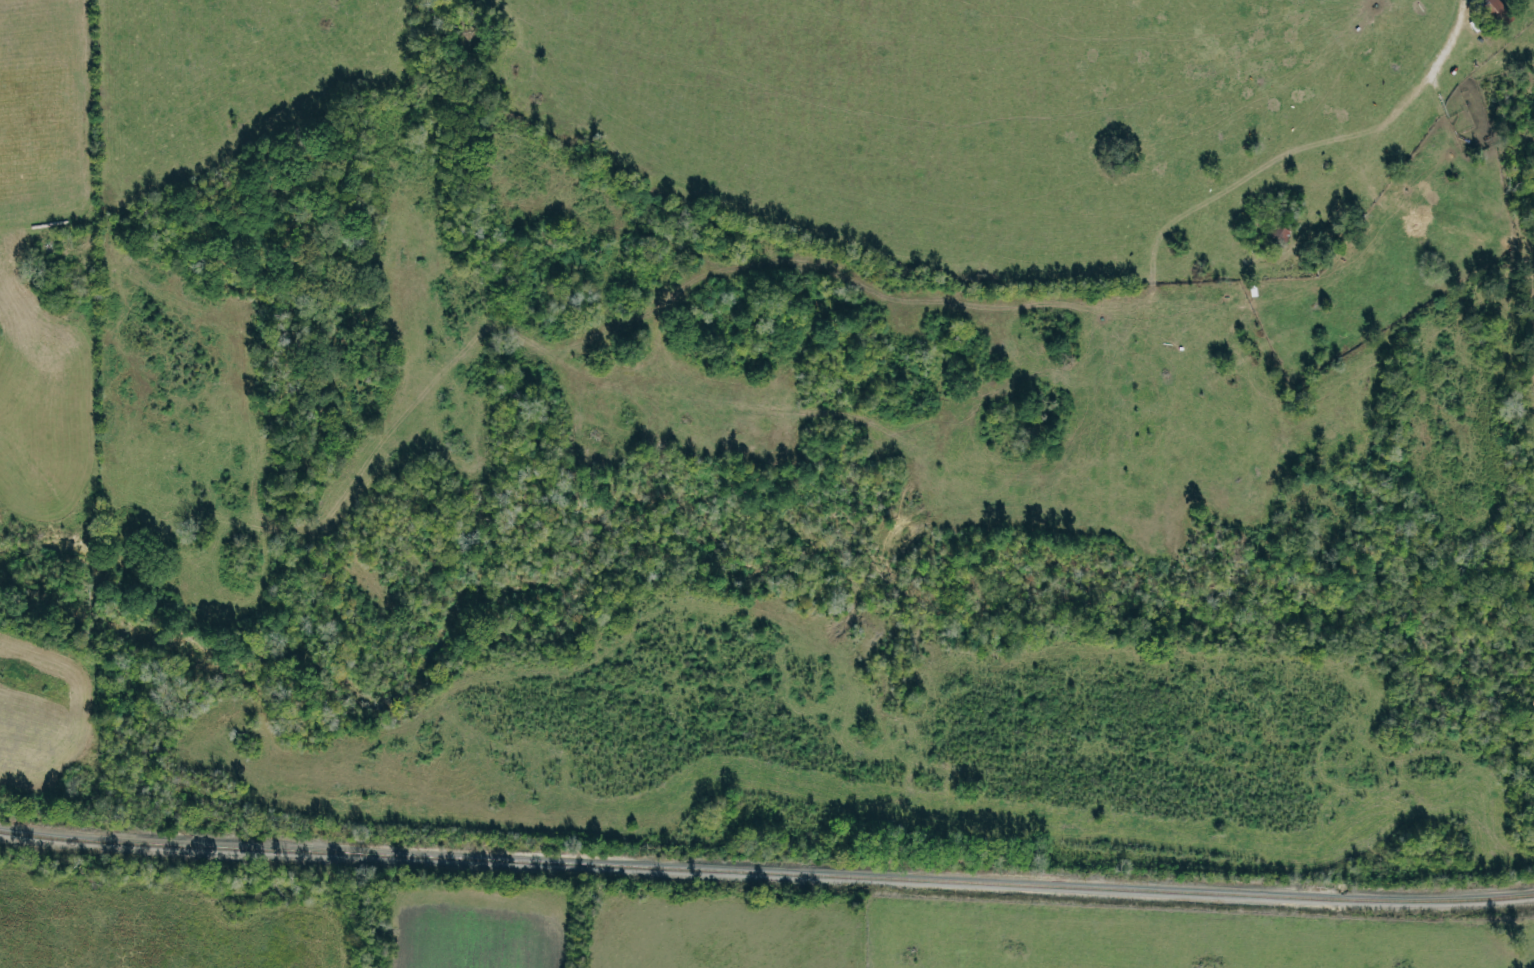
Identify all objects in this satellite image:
road: (1454, 38)
railway: (766, 873)

